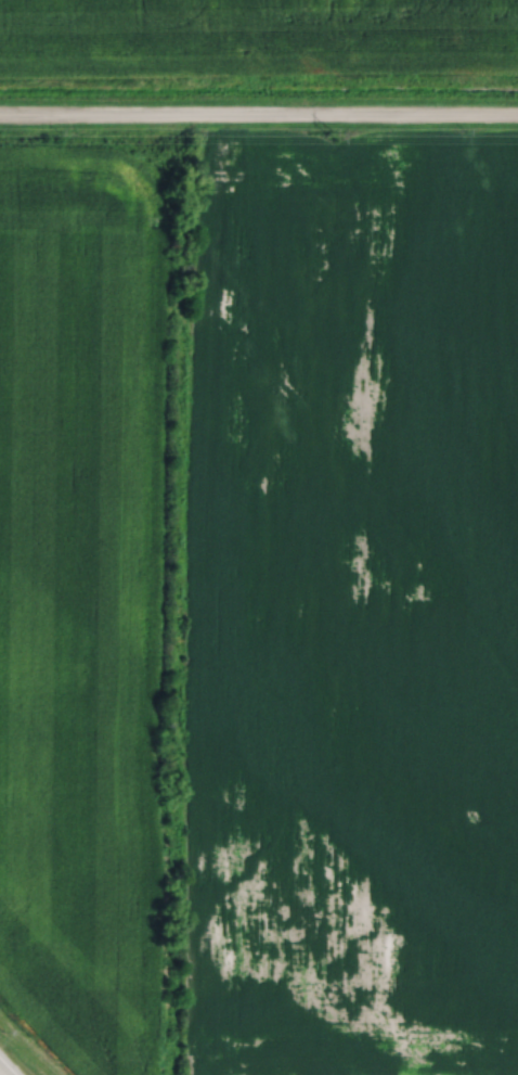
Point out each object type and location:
road: (259, 111)
power tower: (333, 137)
road: (1, 1073)

